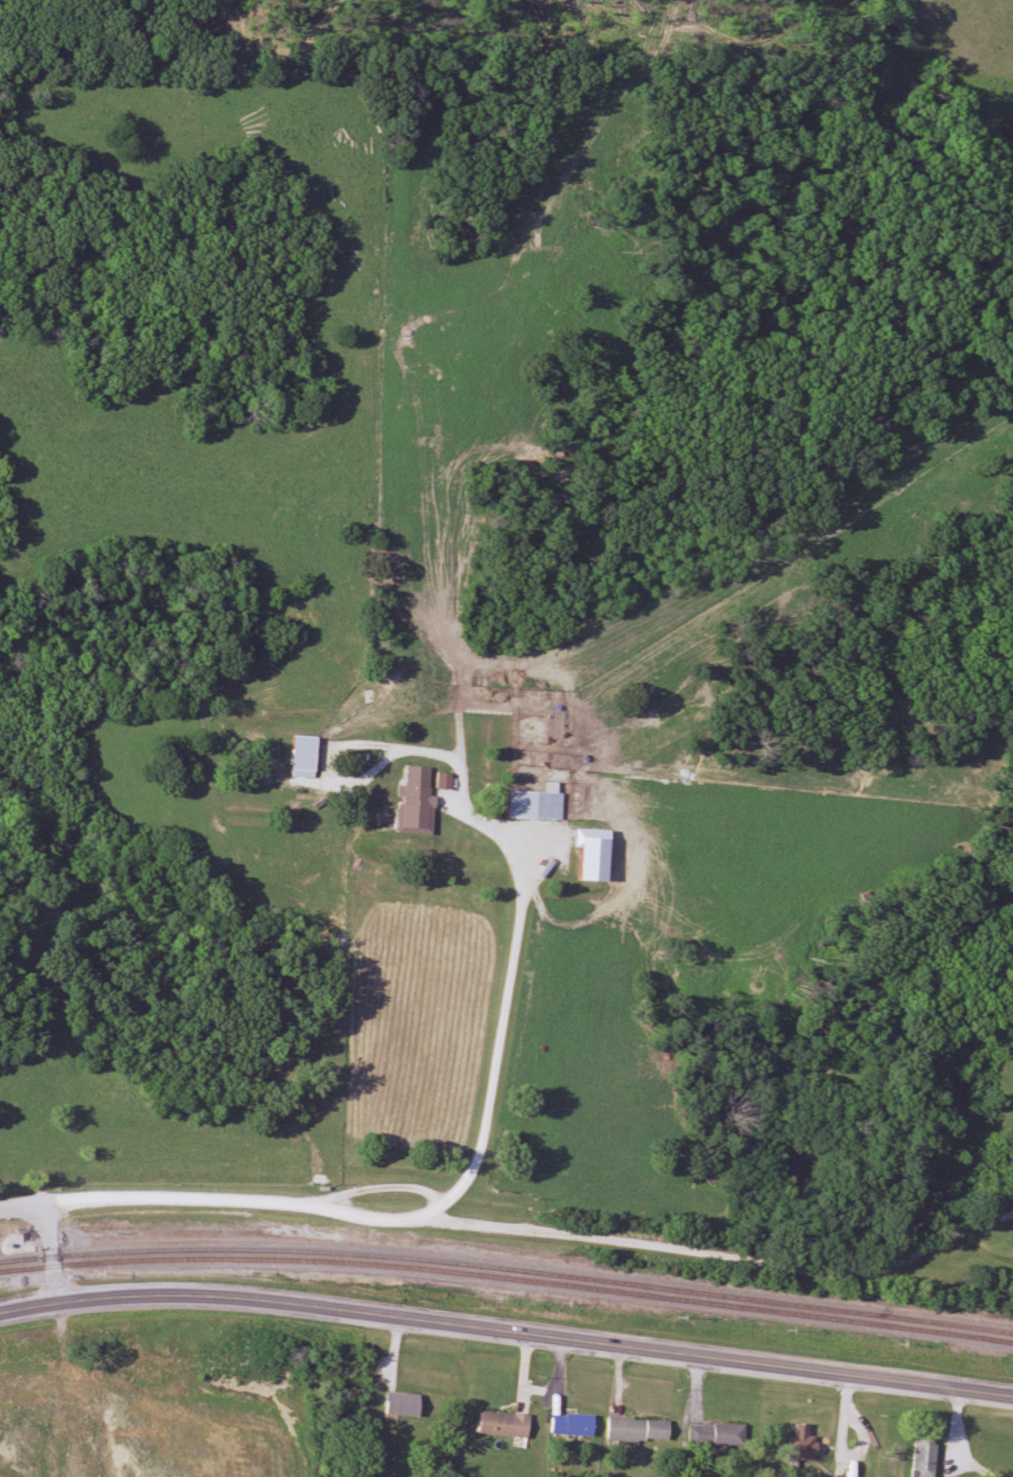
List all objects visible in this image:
building: (306, 757)
building: (446, 781)
building: (419, 788)
building: (538, 803)
road: (500, 1039)
road: (511, 1230)
road: (53, 1255)
railway: (507, 1268)
railway: (507, 1278)
road: (506, 1332)
building: (404, 1404)
building: (501, 1423)
building: (573, 1424)
road: (832, 1425)
building: (639, 1429)
building: (718, 1434)
road: (853, 1435)
road: (947, 1438)
building: (803, 1443)
building: (927, 1456)

